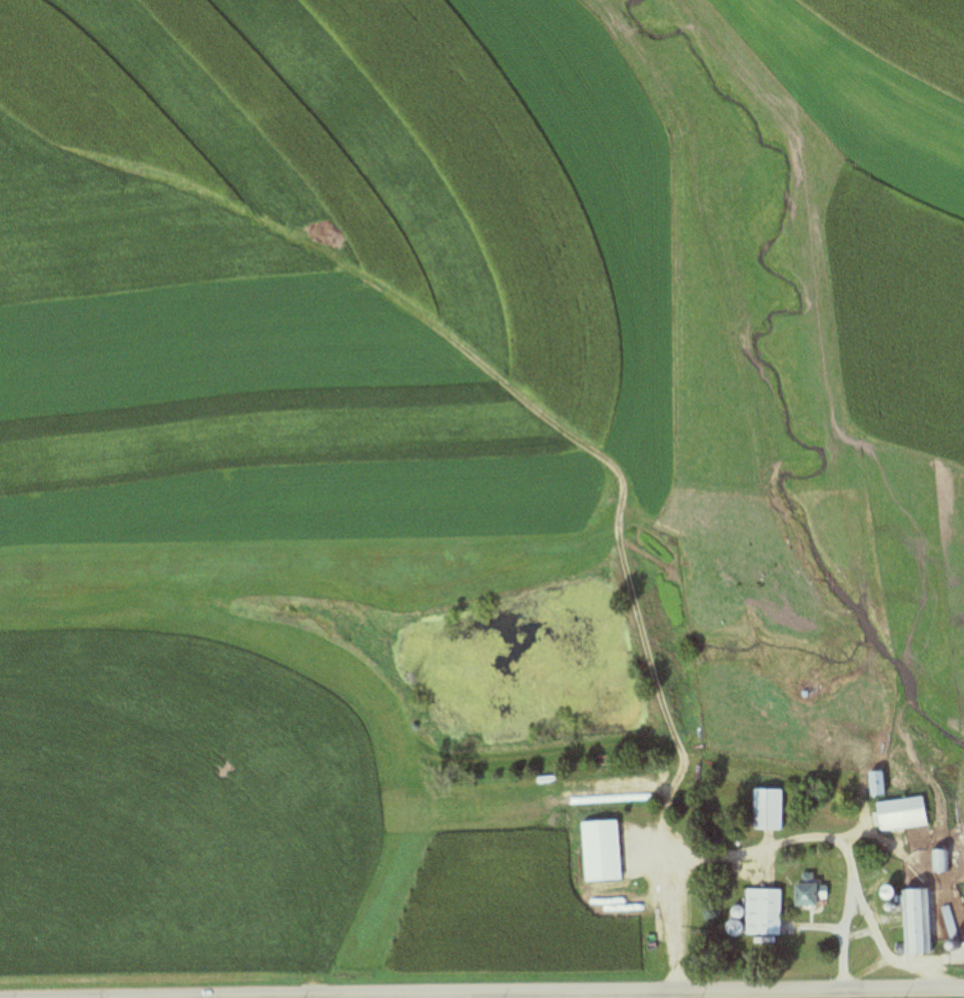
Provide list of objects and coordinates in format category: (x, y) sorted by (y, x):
building: (876, 783)
building: (768, 810)
building: (901, 814)
road: (772, 847)
building: (600, 851)
building: (940, 861)
building: (809, 894)
building: (762, 912)
building: (916, 921)
road: (534, 992)

